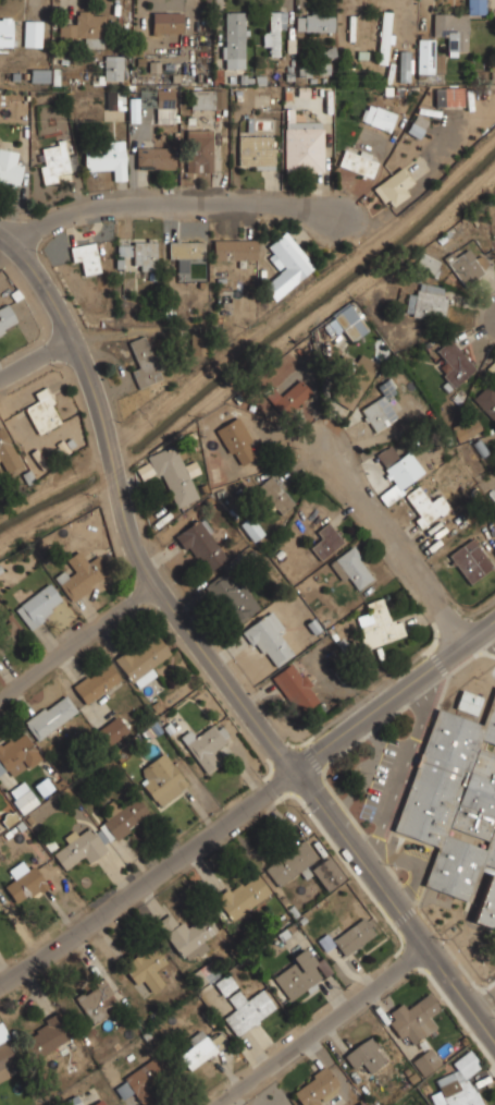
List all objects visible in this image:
building: (313, 21)
building: (166, 22)
building: (455, 25)
building: (82, 29)
building: (7, 31)
building: (32, 32)
building: (273, 32)
building: (383, 36)
building: (233, 39)
building: (426, 56)
building: (405, 62)
building: (438, 63)
building: (113, 69)
building: (39, 75)
power tower: (298, 86)
building: (449, 96)
building: (206, 97)
building: (114, 99)
building: (164, 105)
building: (378, 116)
building: (417, 126)
building: (302, 145)
building: (198, 149)
building: (256, 150)
building: (104, 155)
building: (154, 157)
building: (52, 161)
building: (358, 161)
building: (9, 168)
building: (394, 186)
road: (143, 205)
road: (311, 205)
building: (185, 248)
building: (233, 248)
building: (123, 250)
building: (144, 254)
building: (85, 257)
building: (428, 263)
building: (286, 265)
building: (465, 265)
building: (426, 302)
road: (488, 309)
building: (7, 318)
building: (347, 324)
building: (198, 343)
road: (35, 354)
building: (456, 357)
building: (144, 362)
building: (352, 376)
building: (289, 396)
building: (486, 400)
building: (381, 408)
building: (42, 411)
building: (467, 428)
building: (237, 441)
building: (7, 452)
building: (396, 465)
building: (144, 471)
building: (173, 475)
building: (271, 495)
building: (420, 503)
building: (250, 529)
building: (325, 539)
building: (199, 543)
road: (397, 548)
building: (470, 560)
building: (351, 568)
building: (81, 574)
building: (232, 596)
building: (38, 605)
building: (380, 624)
building: (9, 635)
road: (487, 637)
building: (267, 639)
road: (77, 642)
road: (208, 656)
building: (143, 659)
building: (95, 681)
building: (295, 687)
building: (468, 702)
building: (49, 715)
building: (112, 727)
building: (206, 745)
building: (16, 753)
road: (400, 773)
building: (161, 777)
parking lot: (380, 778)
building: (44, 787)
building: (24, 799)
road: (248, 804)
building: (457, 807)
building: (124, 816)
building: (77, 848)
building: (289, 862)
road: (416, 863)
building: (326, 873)
building: (23, 882)
building: (243, 895)
building: (186, 935)
building: (348, 937)
building: (146, 968)
building: (299, 973)
building: (211, 977)
building: (96, 999)
road: (484, 1003)
building: (246, 1009)
parking lot: (494, 1013)
building: (413, 1019)
road: (322, 1025)
building: (44, 1037)
building: (198, 1048)
building: (5, 1053)
building: (364, 1055)
building: (425, 1060)
building: (141, 1080)
building: (457, 1083)
building: (313, 1086)
building: (72, 1101)
building: (98, 1102)
building: (361, 1103)
building: (494, 1104)

